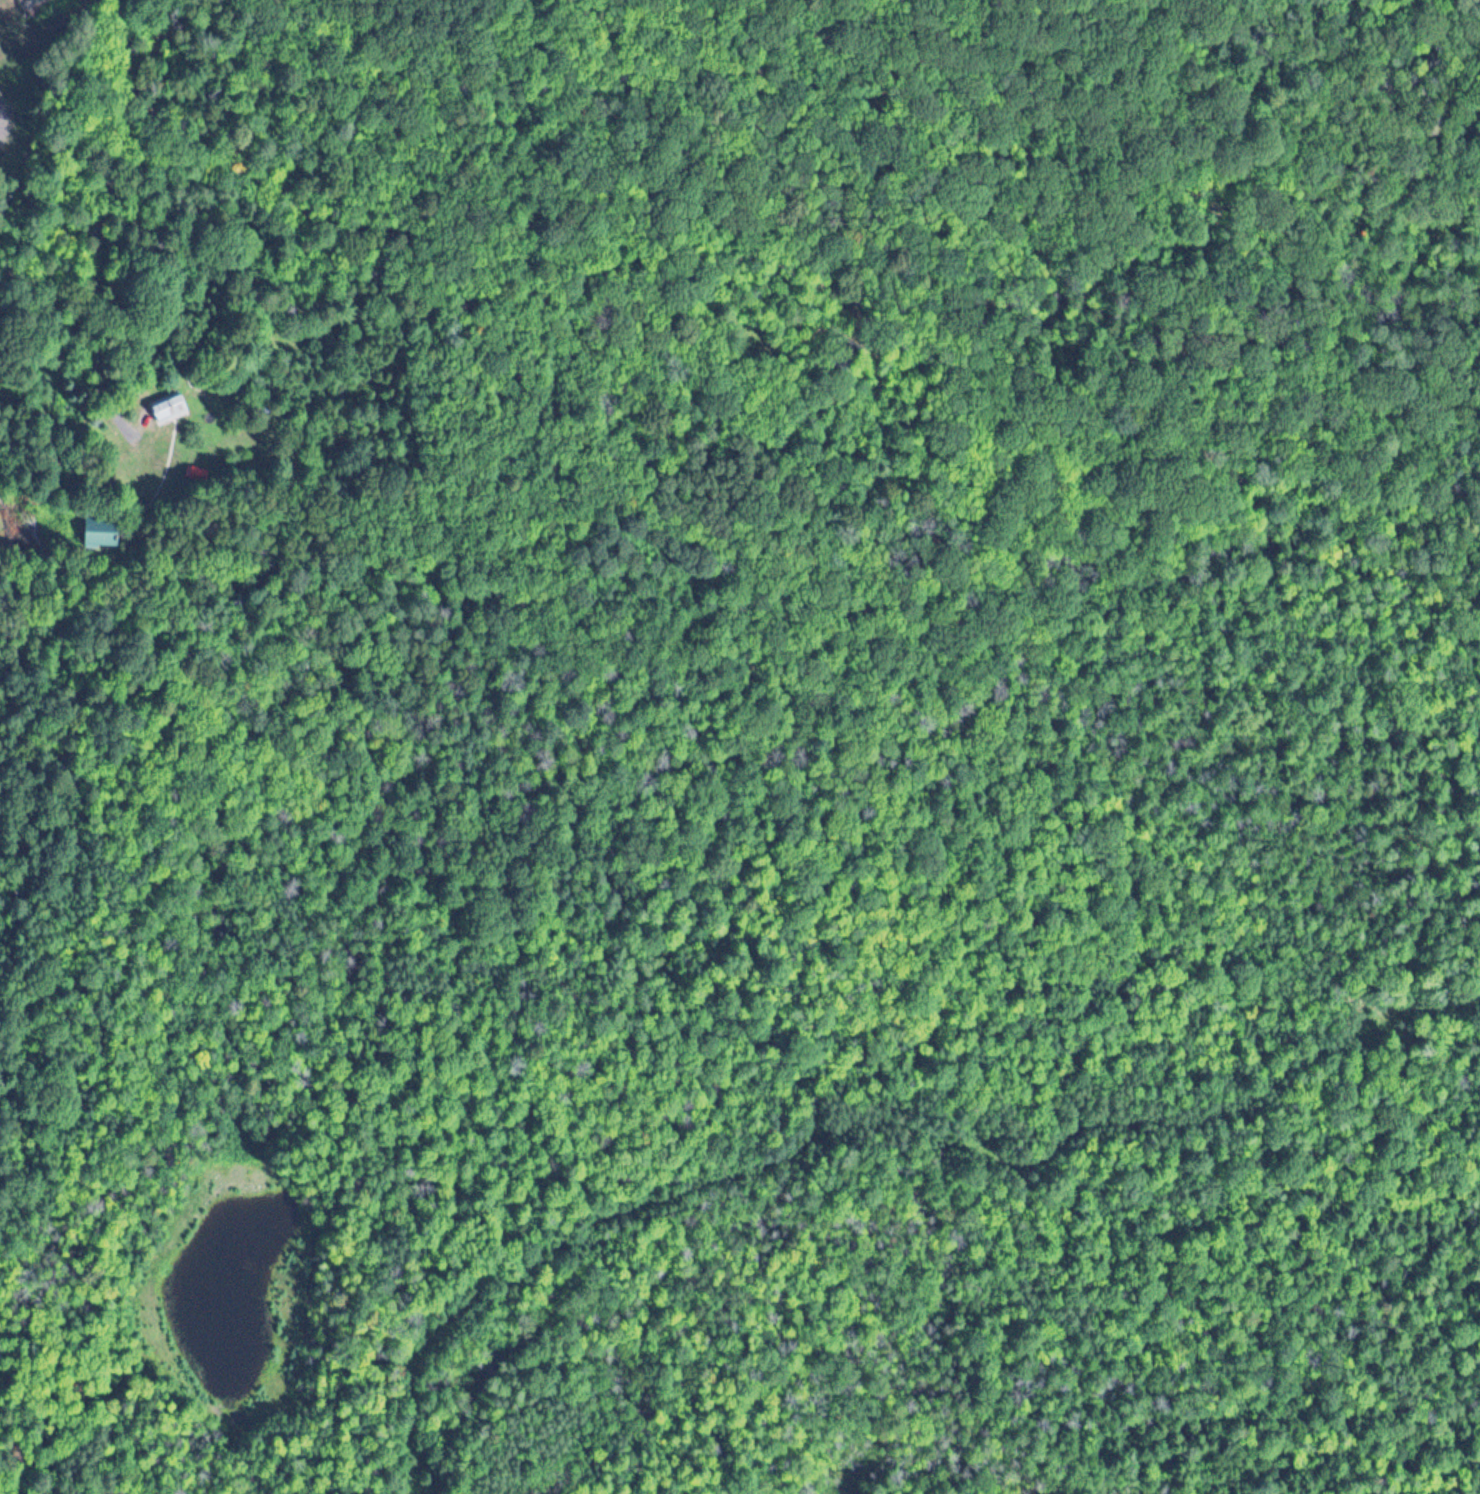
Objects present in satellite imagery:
road: (7, 120)
building: (172, 407)
building: (99, 529)

